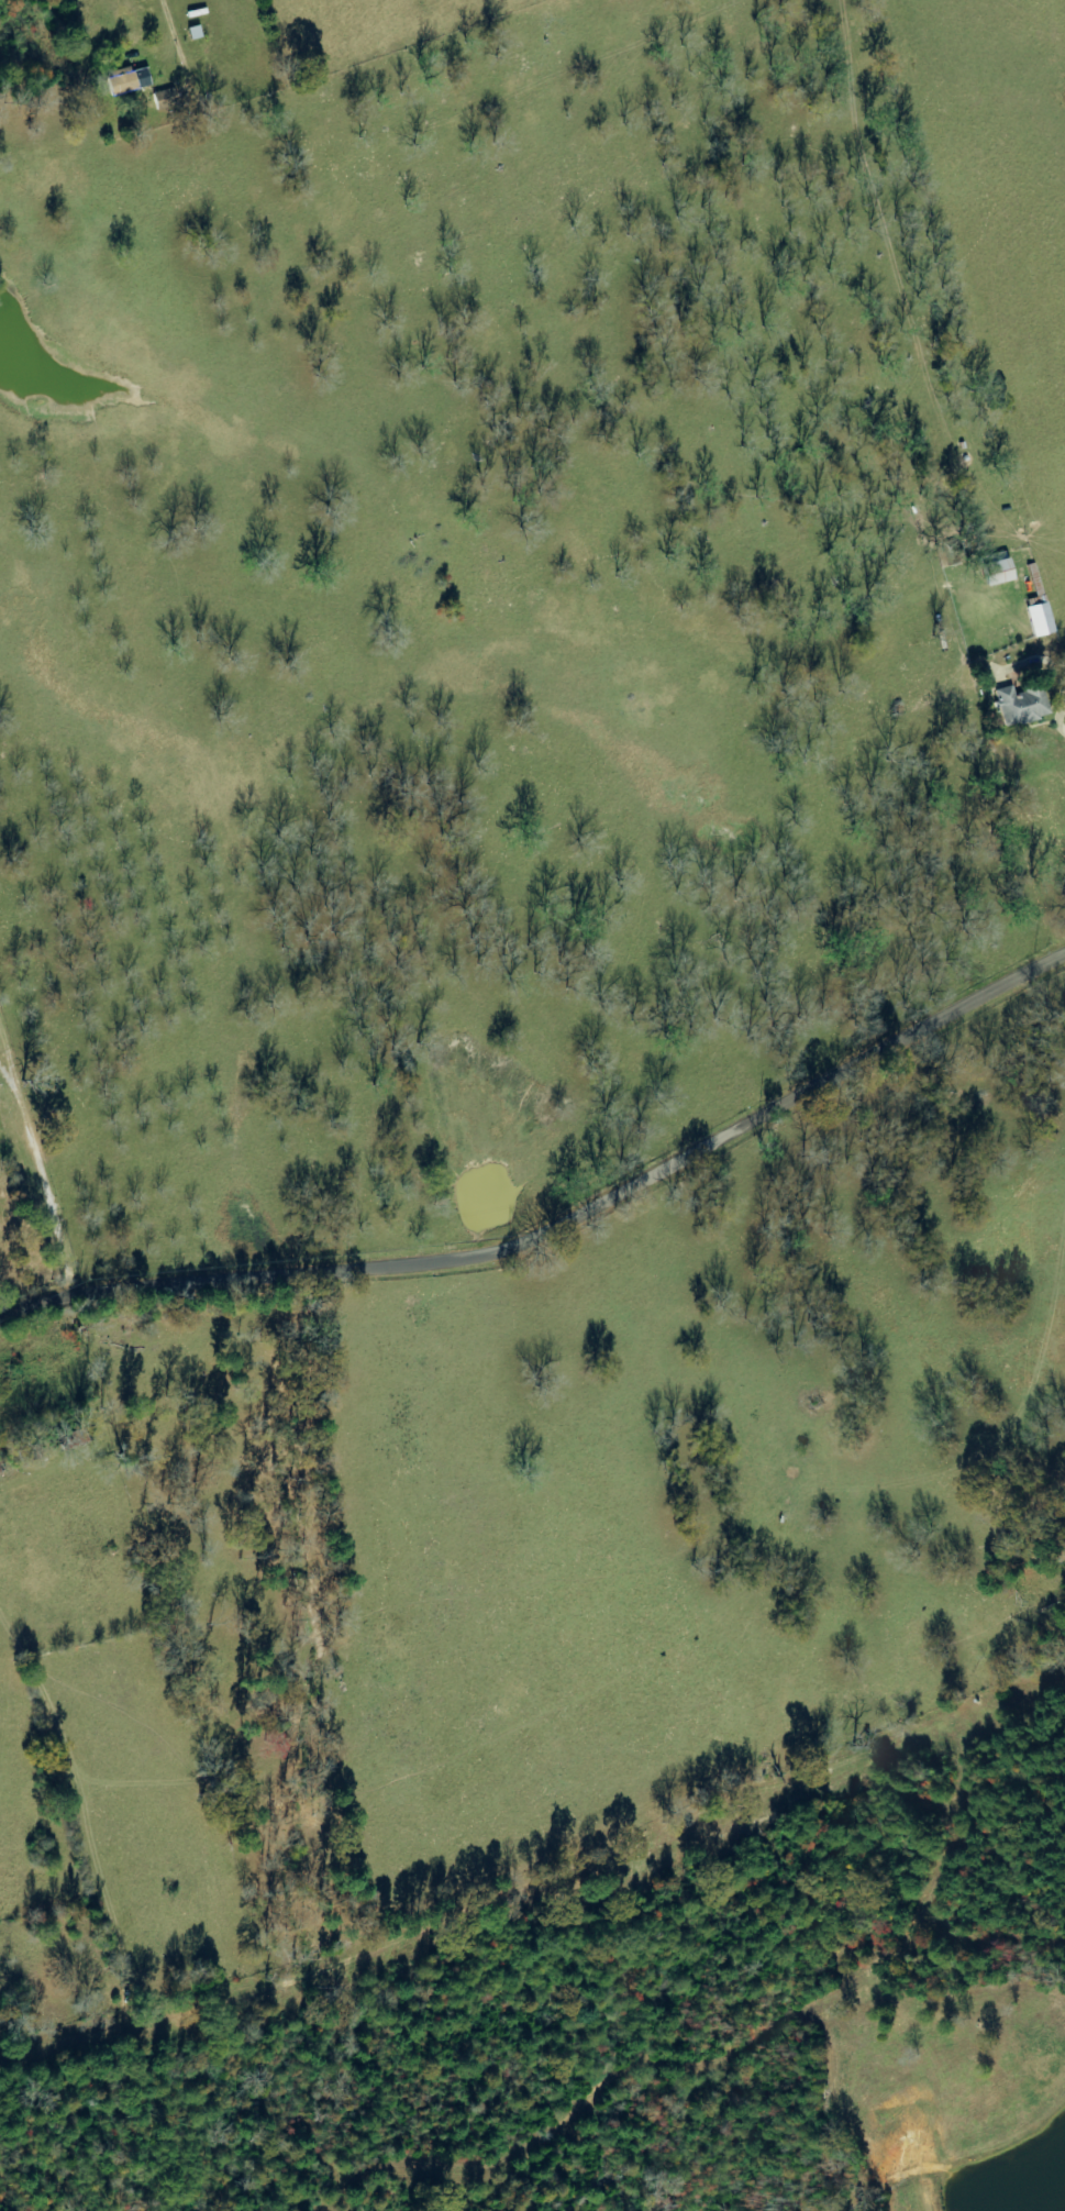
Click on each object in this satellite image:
building: (127, 80)
building: (165, 96)
road: (1052, 553)
building: (996, 573)
building: (1041, 620)
building: (1022, 705)
road: (55, 1134)
road: (561, 1227)

